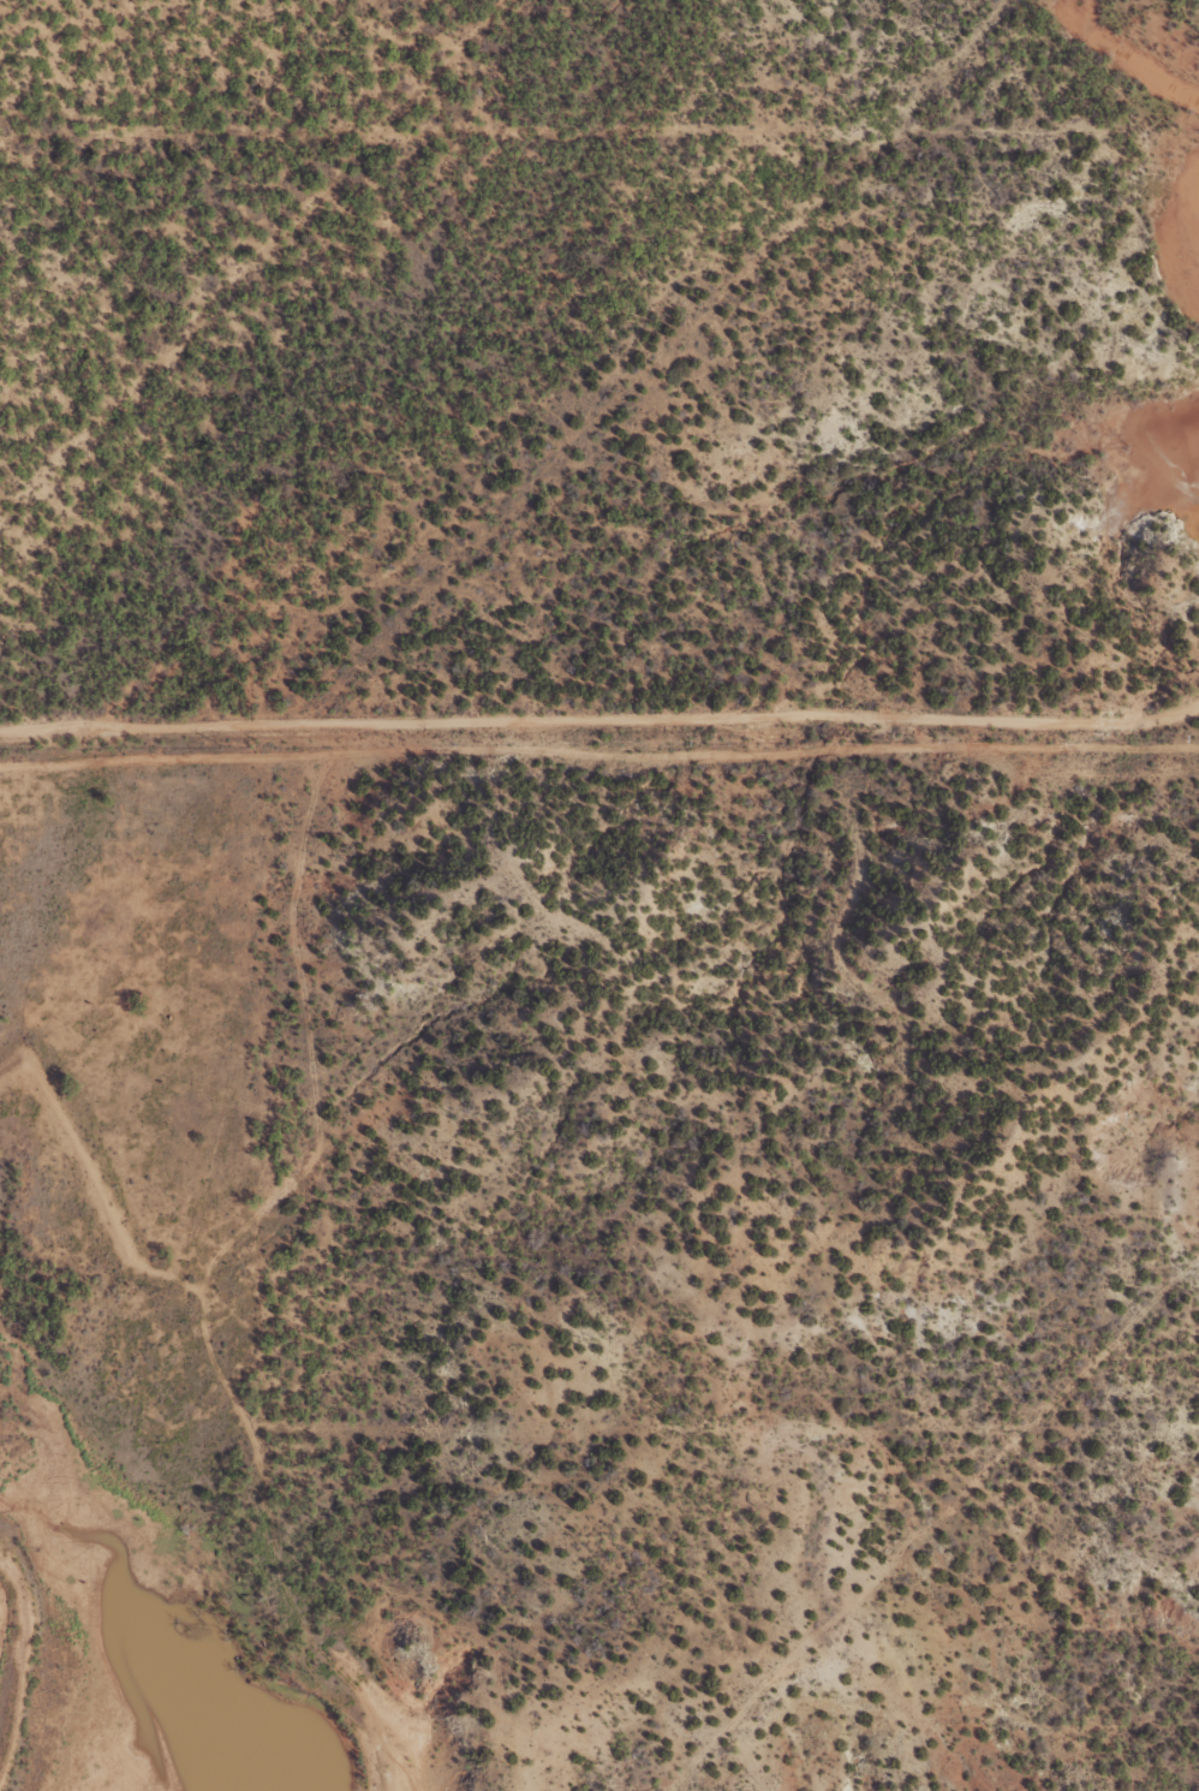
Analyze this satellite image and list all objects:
road: (598, 804)

